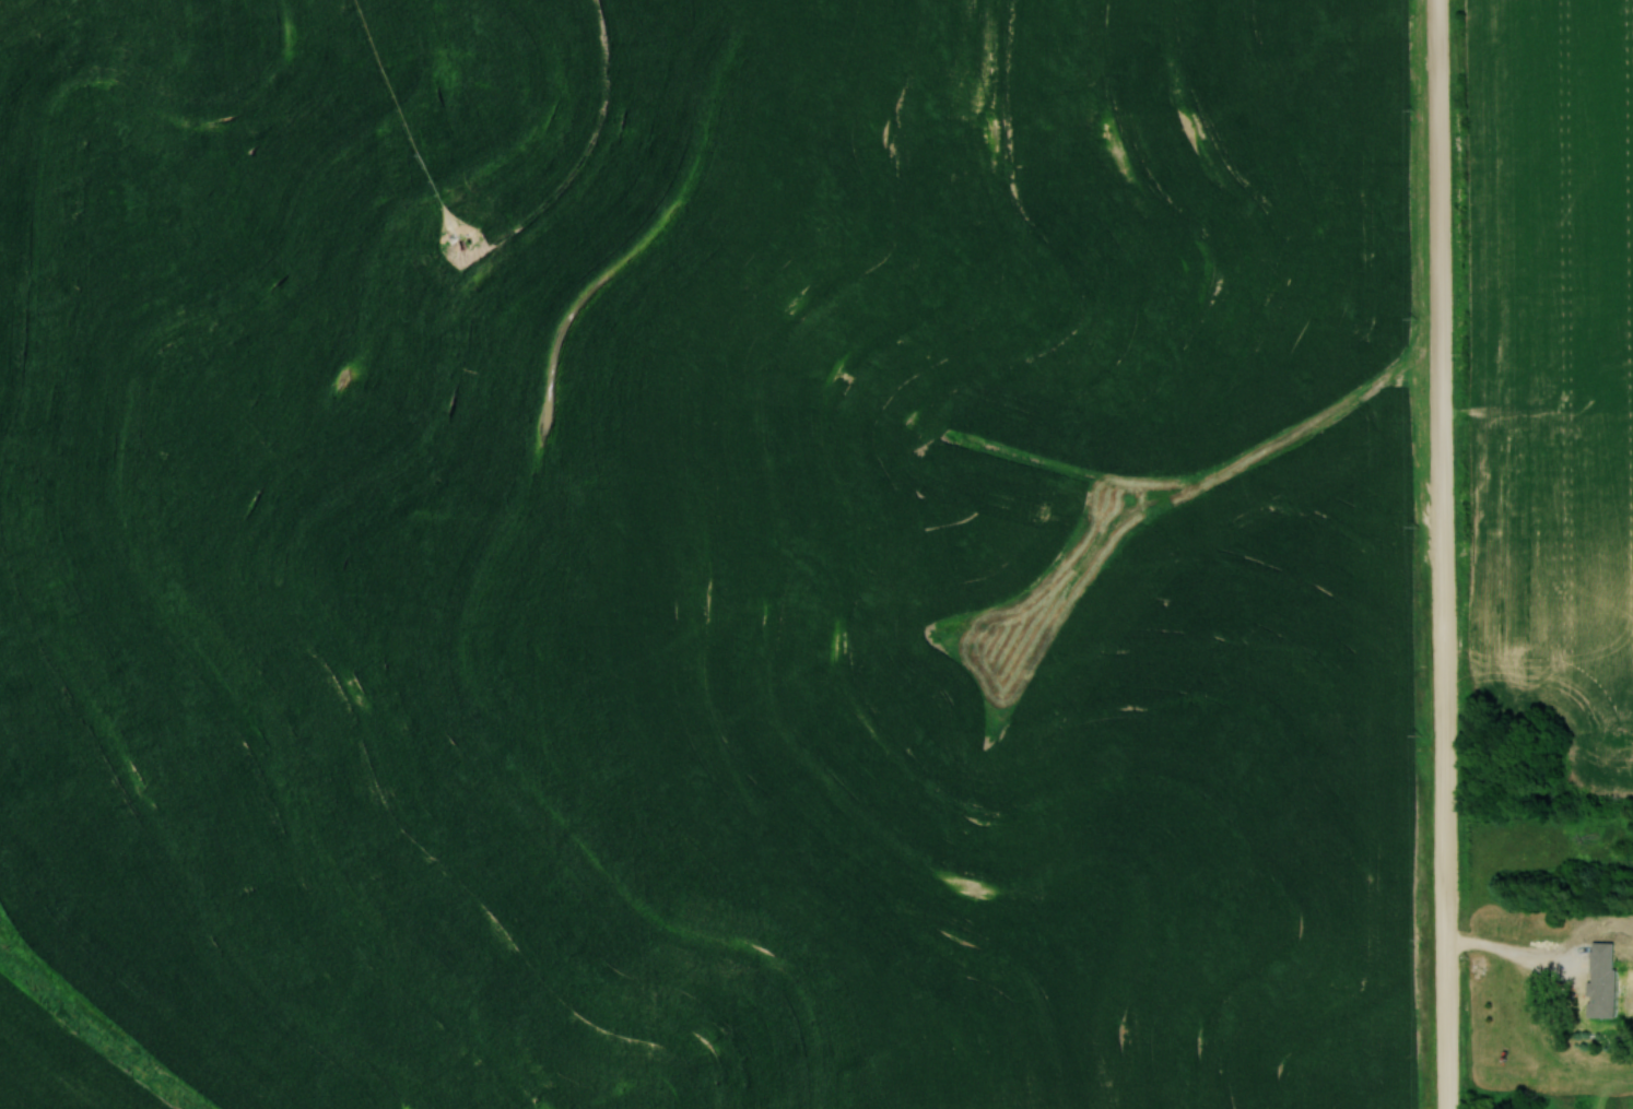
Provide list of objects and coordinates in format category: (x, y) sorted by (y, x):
road: (1453, 554)
building: (1605, 994)

